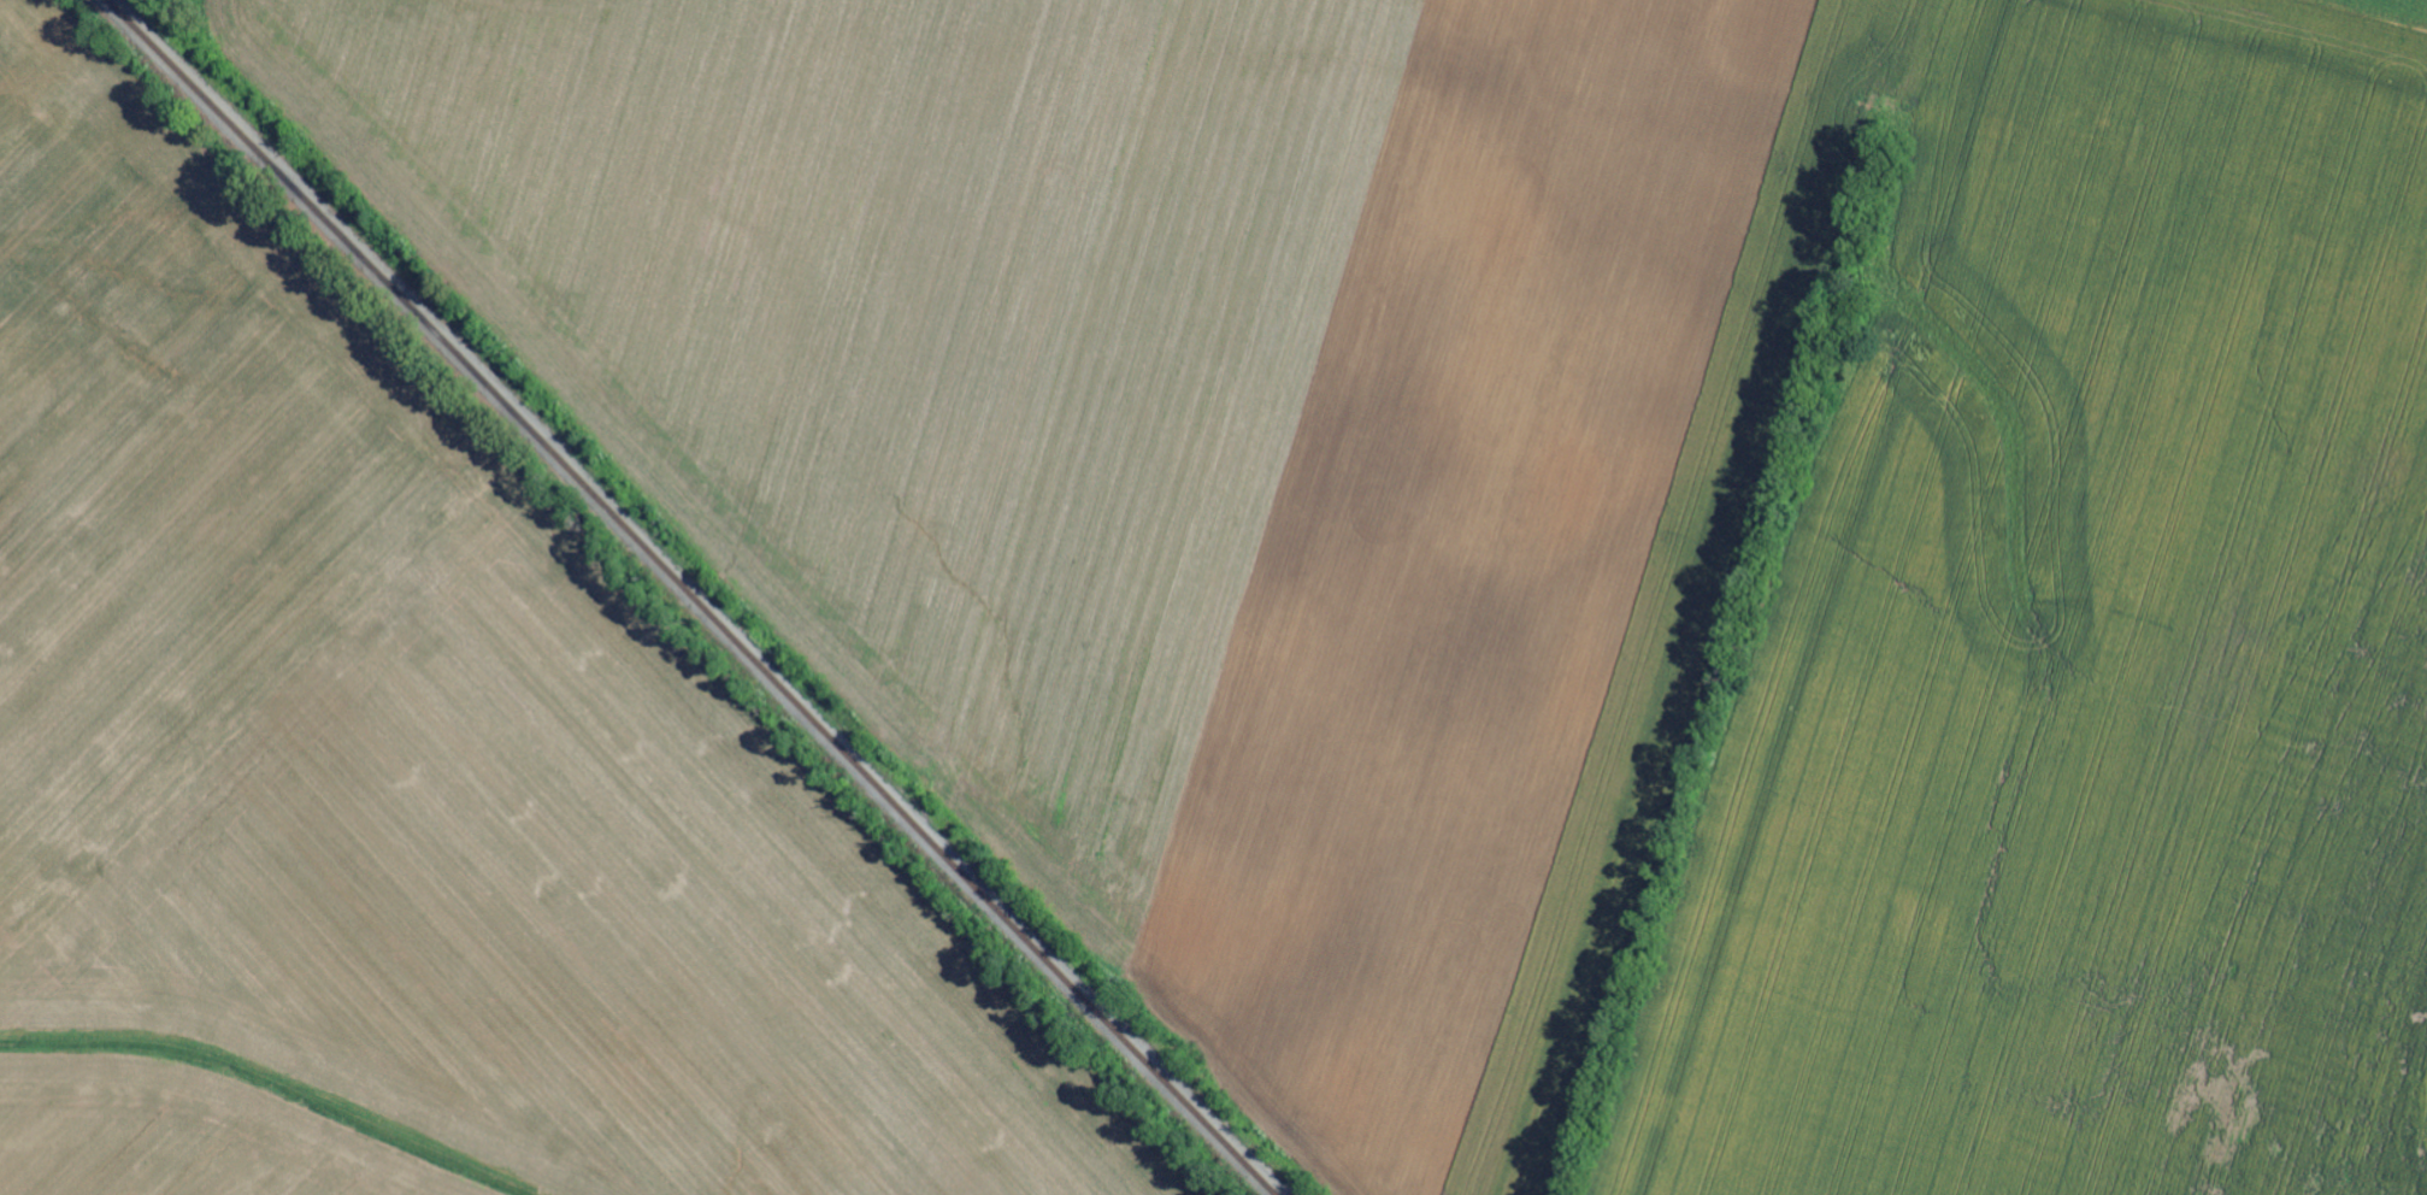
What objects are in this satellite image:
railway: (697, 597)
road: (222, 761)

